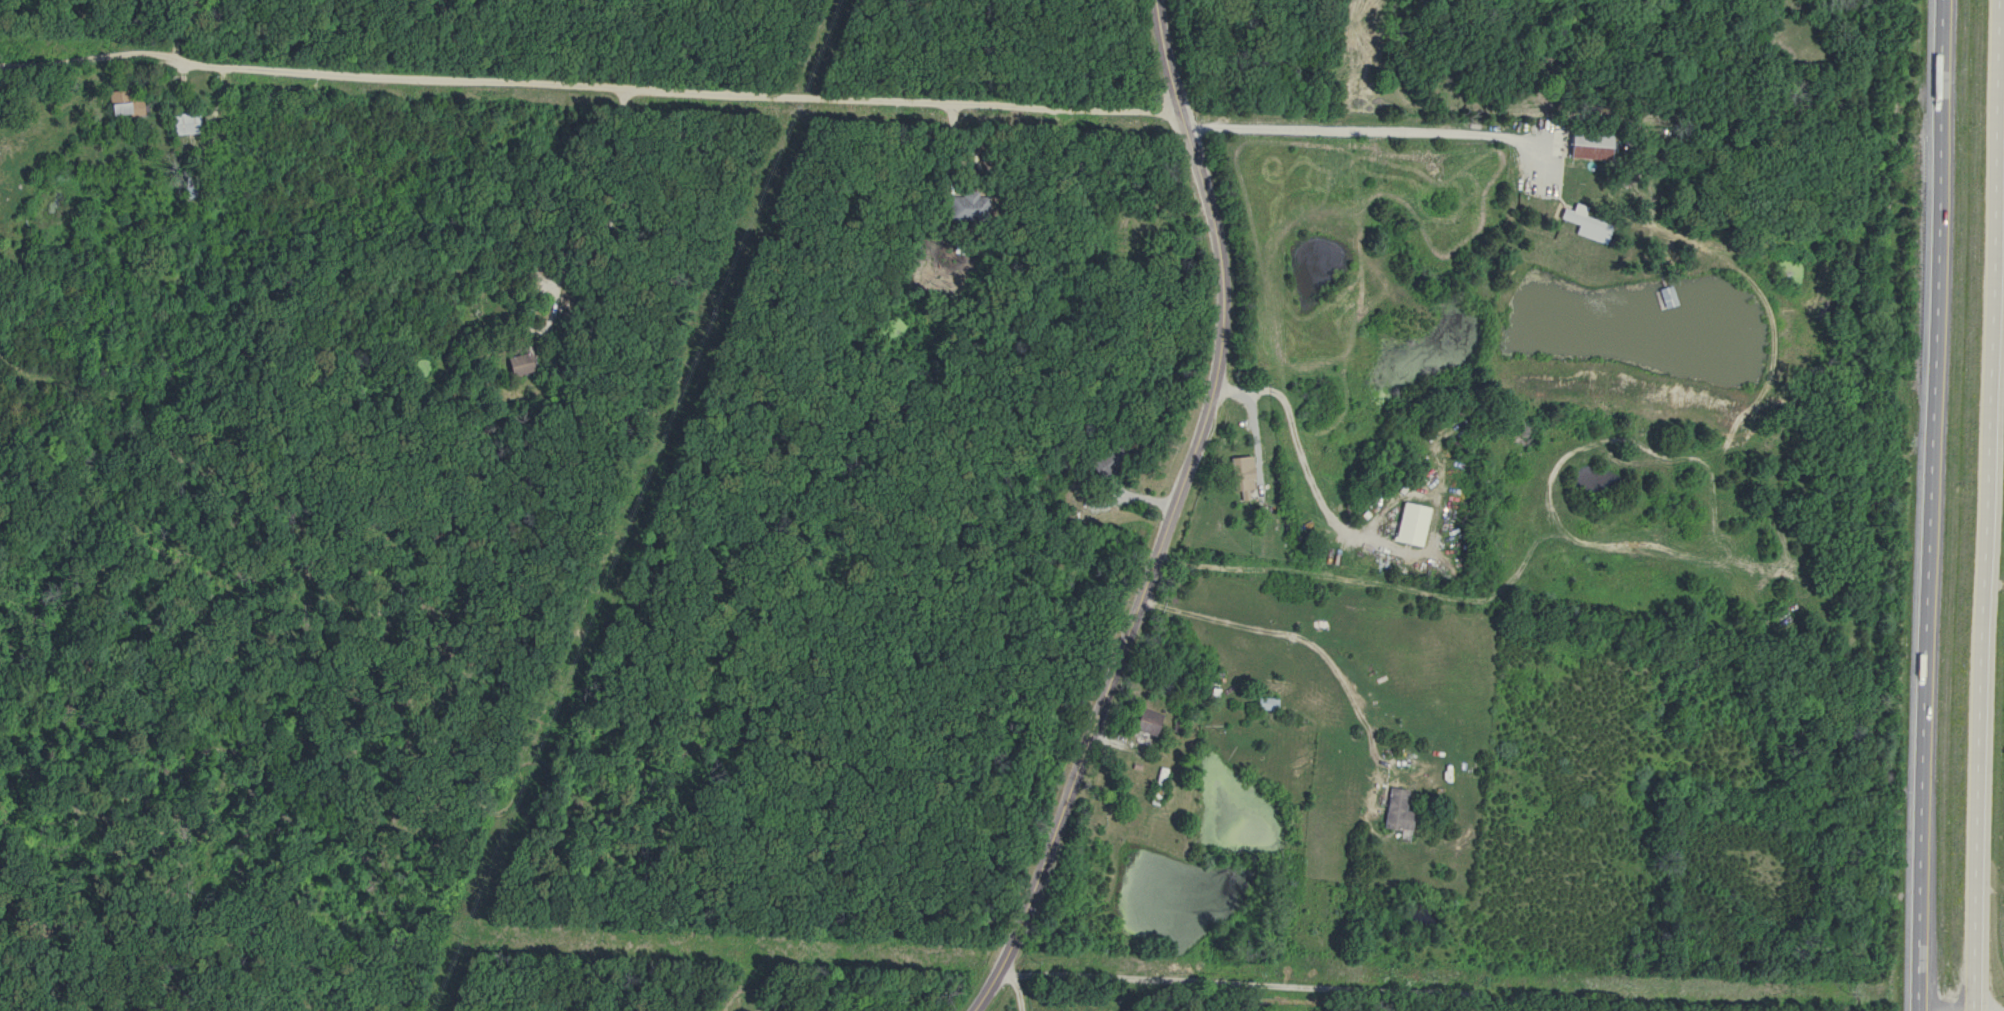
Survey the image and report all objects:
road: (2003, 25)
road: (588, 89)
building: (122, 108)
building: (184, 123)
road: (1360, 128)
building: (1587, 144)
building: (970, 207)
building: (1581, 221)
building: (517, 365)
road: (1292, 435)
building: (1106, 461)
building: (1240, 473)
road: (1934, 505)
road: (1169, 517)
building: (1409, 524)
road: (1980, 636)
road: (1299, 638)
building: (1265, 704)
building: (1144, 722)
building: (1155, 787)
building: (1393, 811)
road: (1240, 982)
road: (1013, 986)

